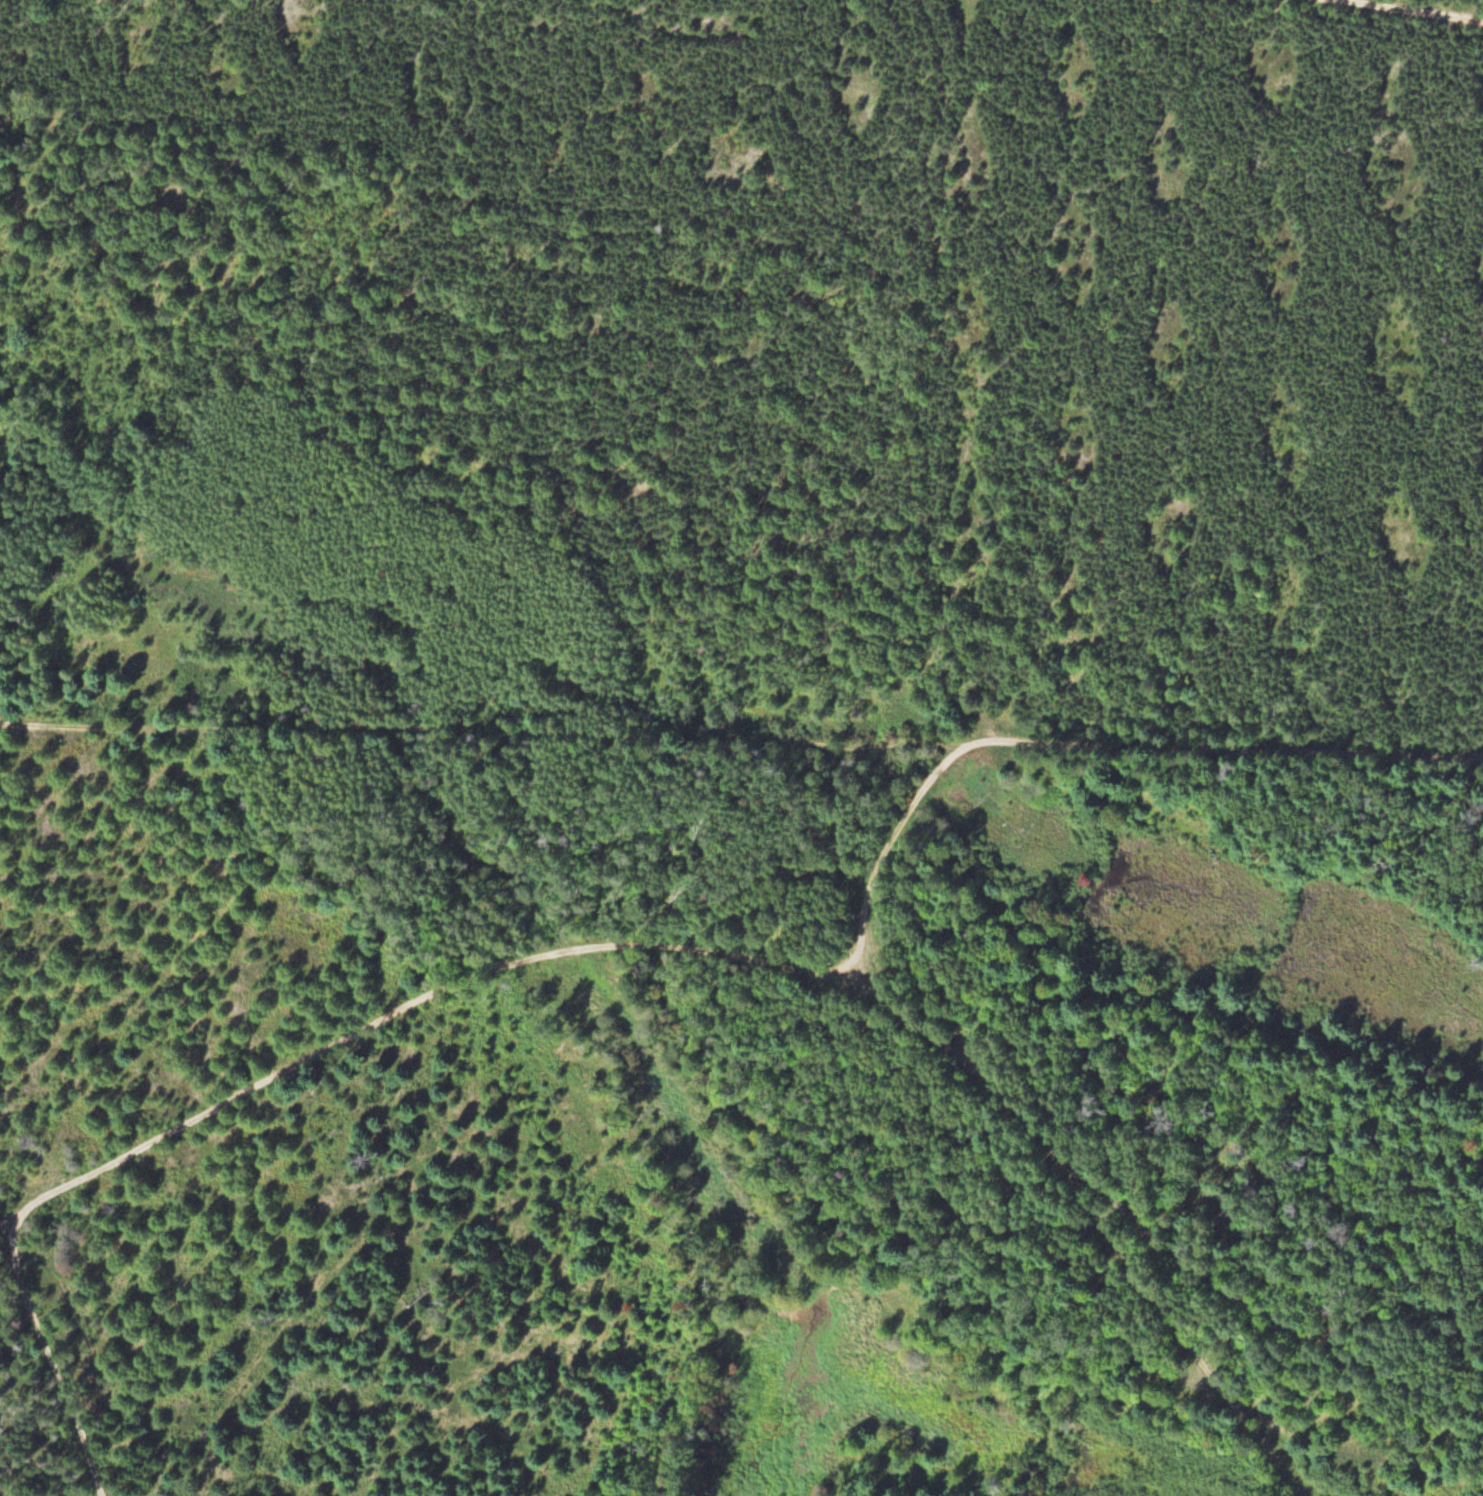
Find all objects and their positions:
road: (1442, 6)
road: (741, 734)
road: (879, 852)
road: (745, 952)
road: (54, 1360)

